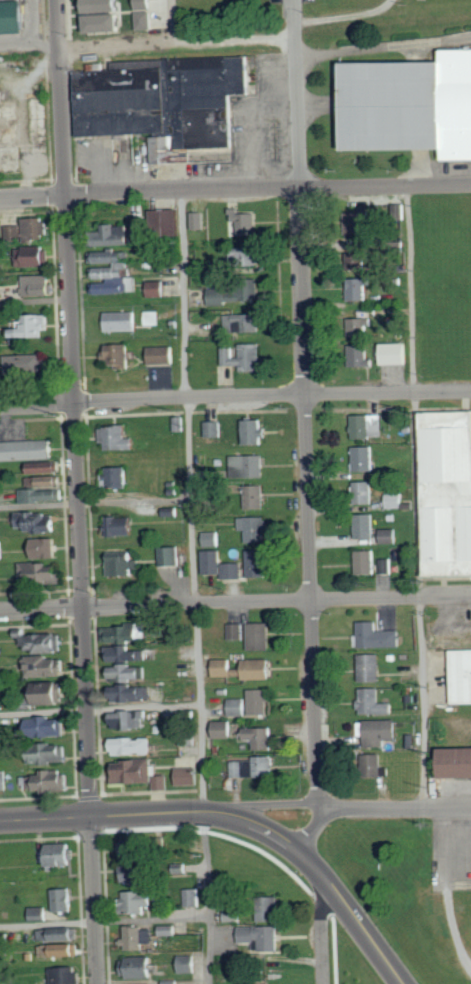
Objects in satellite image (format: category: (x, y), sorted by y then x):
building: (144, 5)
building: (105, 6)
road: (342, 14)
building: (10, 16)
building: (146, 20)
road: (173, 20)
building: (107, 23)
road: (177, 40)
road: (384, 48)
building: (165, 102)
building: (409, 105)
road: (235, 190)
building: (166, 220)
building: (369, 220)
building: (198, 221)
building: (246, 224)
building: (31, 228)
building: (11, 231)
building: (141, 231)
building: (111, 236)
building: (30, 255)
building: (244, 257)
building: (366, 262)
building: (112, 272)
building: (35, 285)
building: (158, 288)
building: (358, 288)
building: (236, 292)
road: (35, 299)
building: (153, 317)
building: (121, 320)
building: (242, 322)
building: (364, 322)
building: (31, 325)
building: (395, 353)
building: (163, 354)
building: (363, 355)
building: (244, 357)
building: (23, 362)
road: (235, 396)
road: (305, 405)
building: (180, 422)
building: (368, 425)
building: (213, 428)
building: (254, 431)
building: (118, 437)
building: (27, 449)
building: (363, 458)
building: (248, 465)
building: (44, 466)
building: (118, 476)
building: (44, 480)
road: (78, 491)
building: (363, 491)
building: (446, 492)
building: (41, 495)
building: (255, 496)
road: (416, 497)
building: (394, 500)
road: (94, 503)
building: (38, 521)
building: (121, 525)
building: (365, 525)
building: (254, 528)
building: (390, 535)
building: (212, 538)
building: (45, 547)
building: (2, 549)
building: (172, 555)
building: (366, 561)
building: (258, 563)
building: (124, 565)
building: (221, 565)
building: (387, 565)
building: (40, 573)
road: (191, 588)
road: (235, 602)
building: (236, 630)
building: (126, 632)
building: (259, 635)
building: (376, 635)
building: (42, 641)
building: (126, 653)
building: (46, 665)
building: (370, 666)
building: (221, 667)
building: (258, 669)
building: (129, 671)
building: (457, 673)
building: (50, 692)
building: (133, 692)
building: (259, 701)
building: (375, 701)
road: (99, 706)
building: (237, 706)
building: (130, 718)
building: (46, 726)
building: (224, 728)
building: (381, 731)
building: (260, 737)
building: (187, 739)
building: (132, 745)
building: (48, 752)
building: (454, 762)
building: (376, 764)
building: (253, 766)
building: (139, 772)
building: (189, 775)
building: (3, 779)
building: (47, 781)
road: (282, 804)
road: (374, 808)
road: (119, 815)
building: (132, 849)
building: (62, 853)
building: (133, 874)
road: (332, 886)
building: (193, 897)
building: (65, 899)
building: (139, 901)
building: (269, 908)
building: (40, 913)
road: (104, 920)
building: (169, 930)
building: (61, 934)
road: (322, 935)
building: (139, 937)
building: (261, 937)
building: (61, 949)
building: (188, 963)
building: (140, 967)
building: (67, 975)
building: (172, 982)

